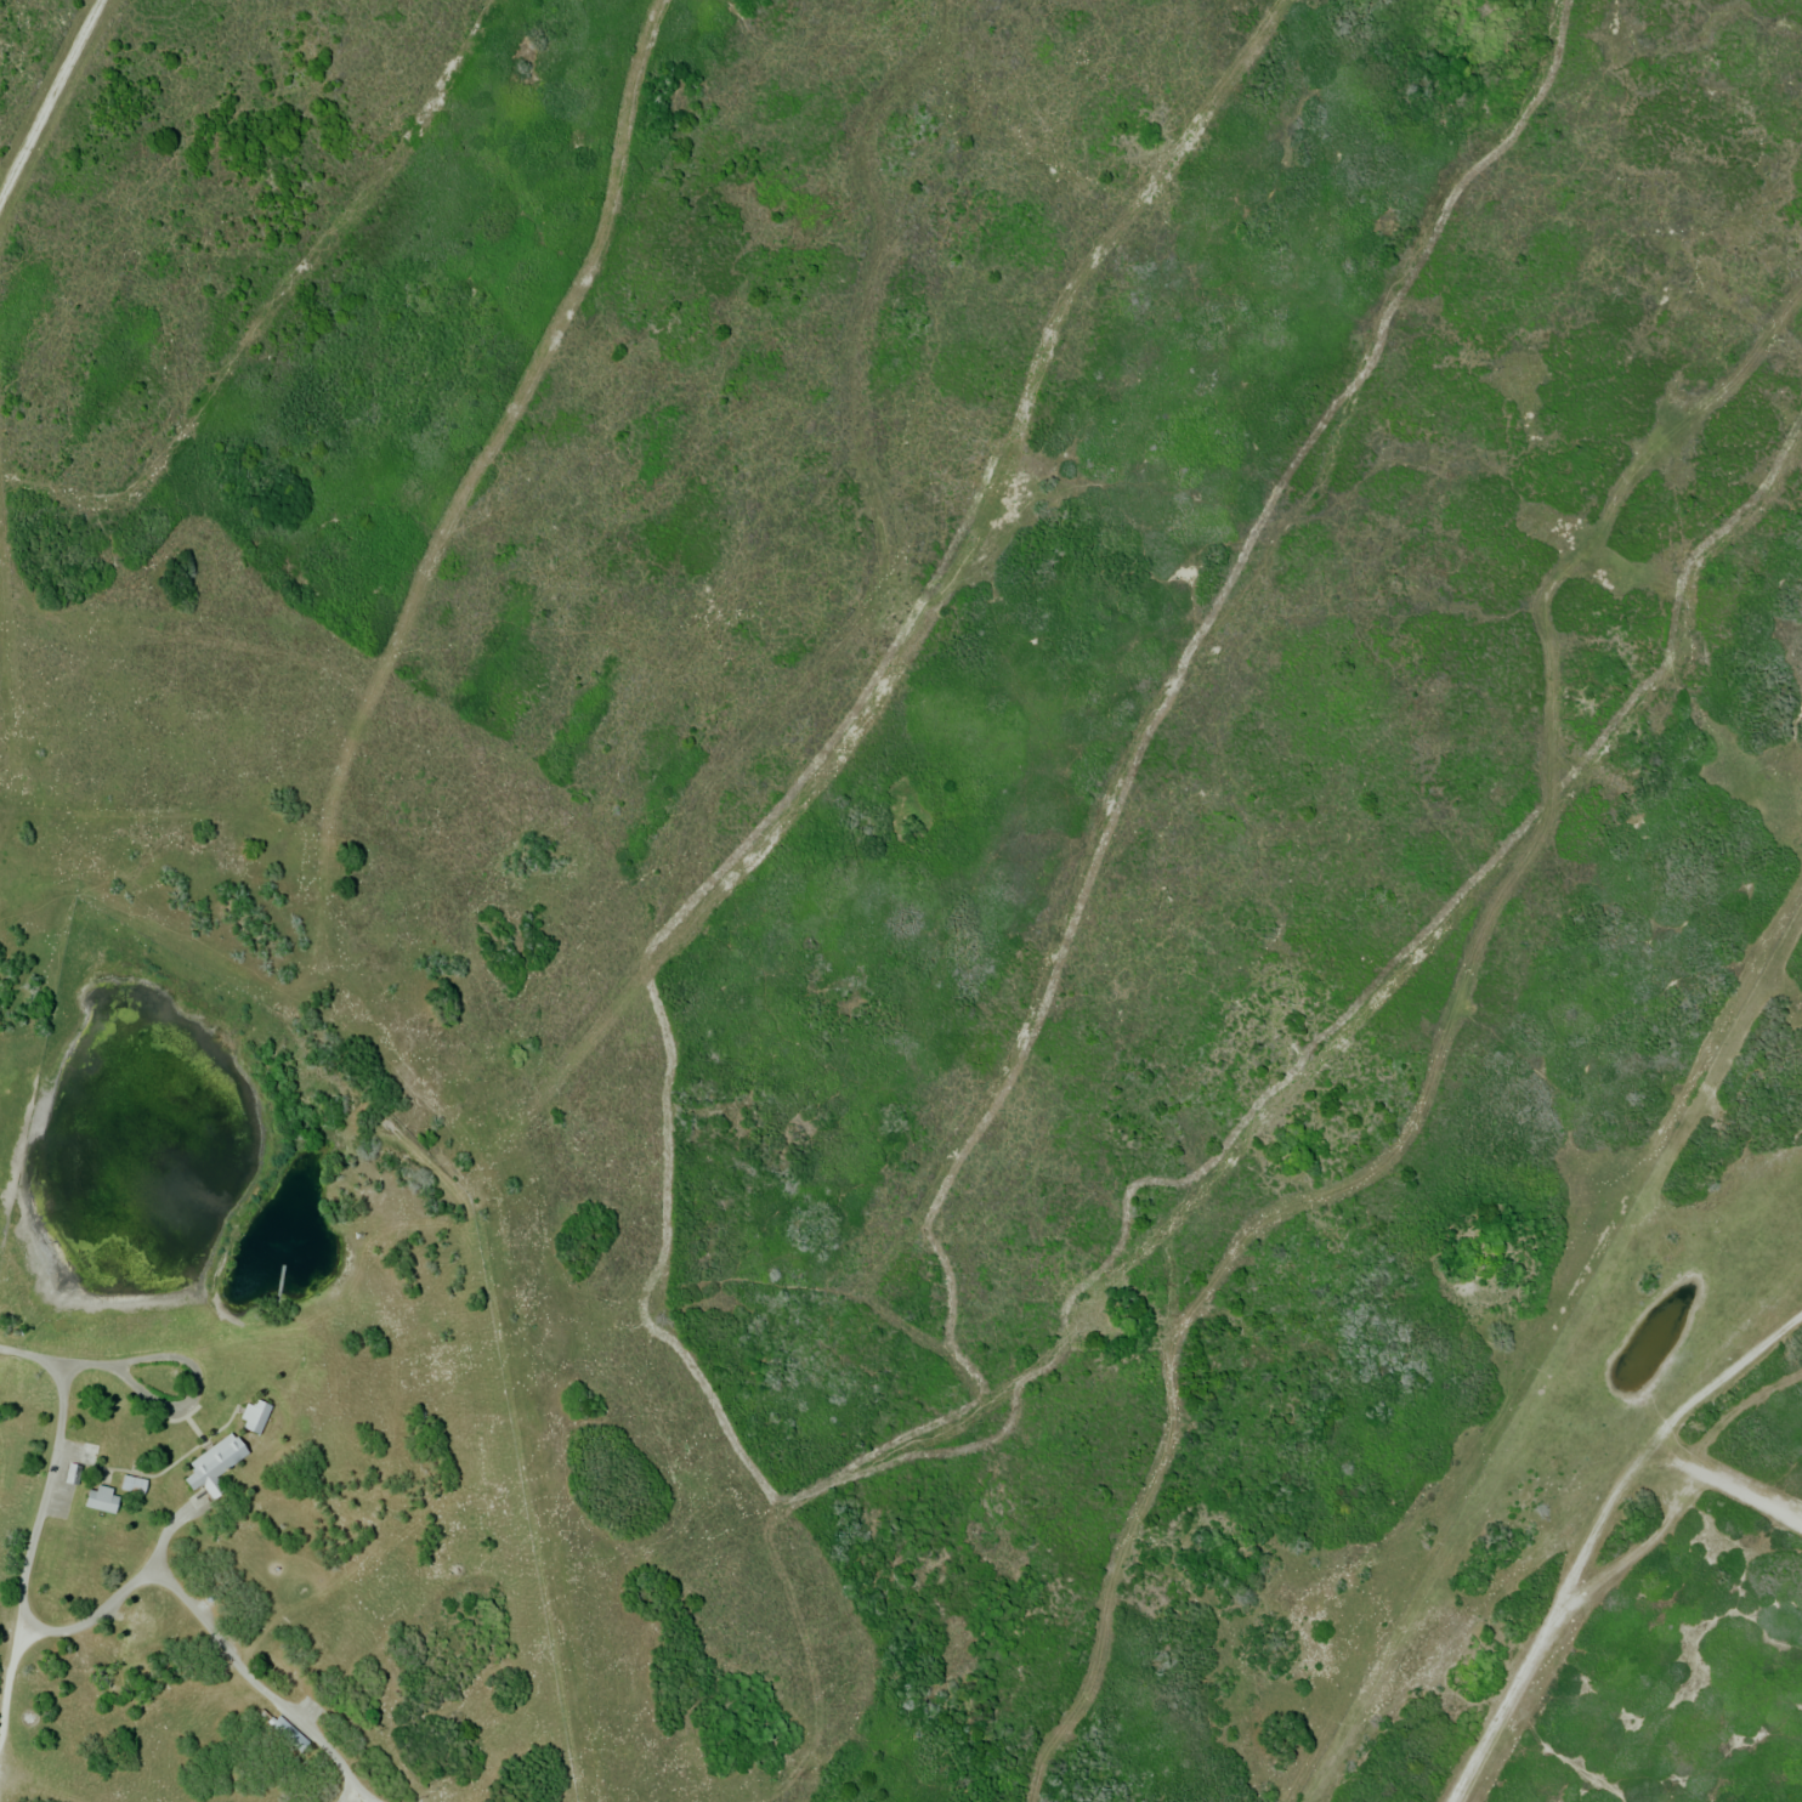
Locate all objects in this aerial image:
building: (215, 1466)
building: (132, 1485)
building: (101, 1502)
building: (138, 1632)
building: (287, 1676)
building: (288, 1742)

